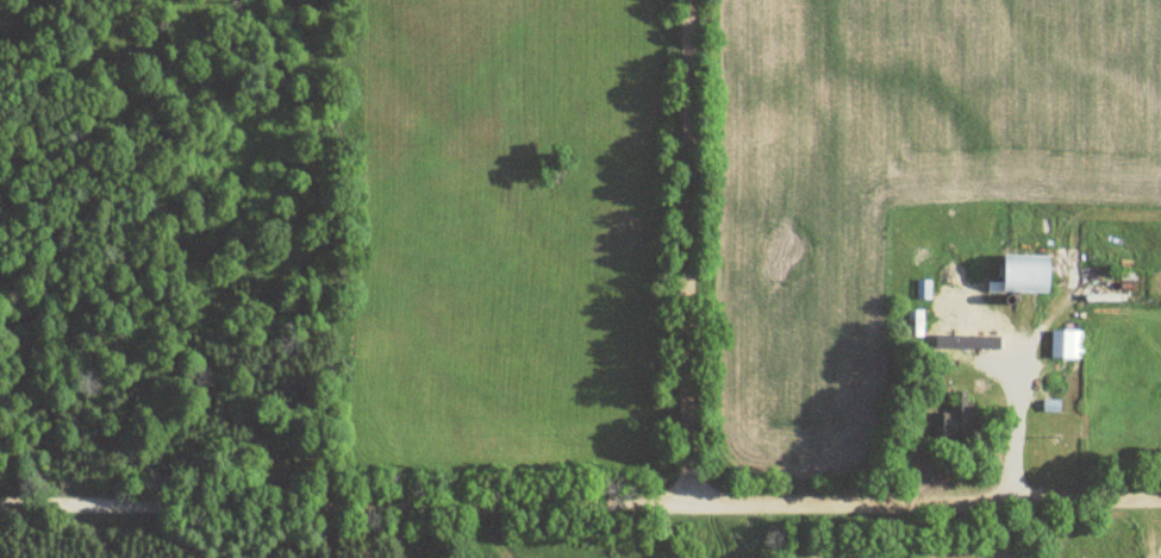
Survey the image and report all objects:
road: (691, 252)
building: (1032, 274)
building: (915, 319)
building: (1066, 345)
building: (961, 405)
road: (580, 504)

